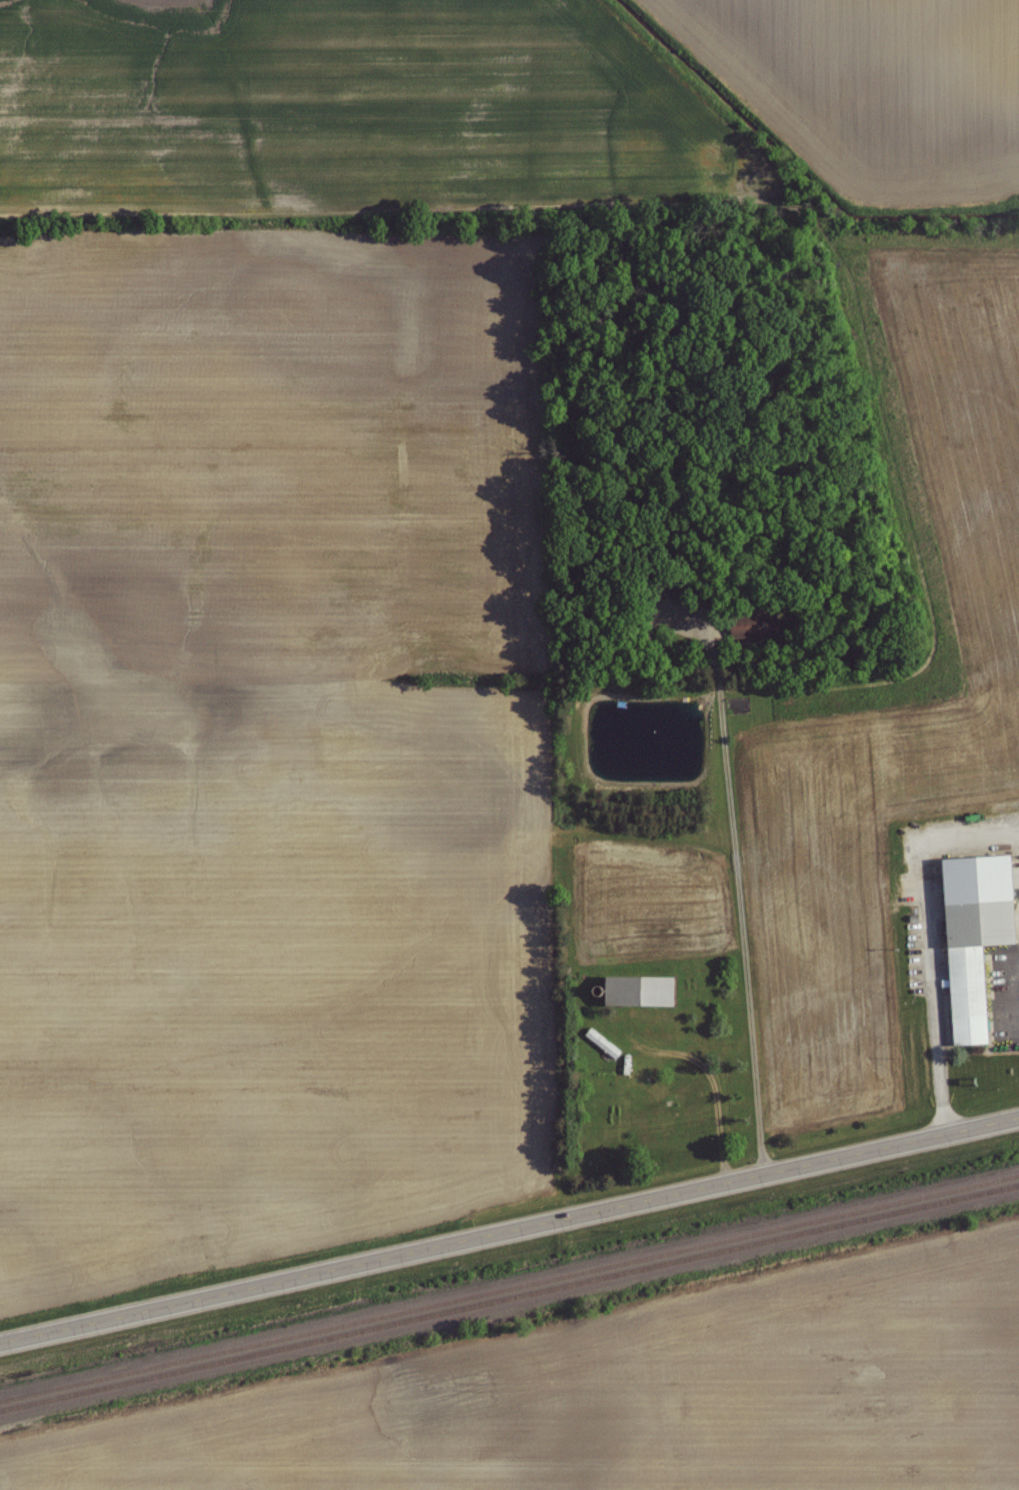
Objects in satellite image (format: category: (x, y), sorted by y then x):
crop: (870, 87)
crop: (373, 105)
crop: (976, 681)
crop: (266, 735)
road: (741, 916)
road: (932, 967)
road: (509, 1231)
railway: (509, 1289)
railway: (509, 1300)
crop: (632, 1400)

